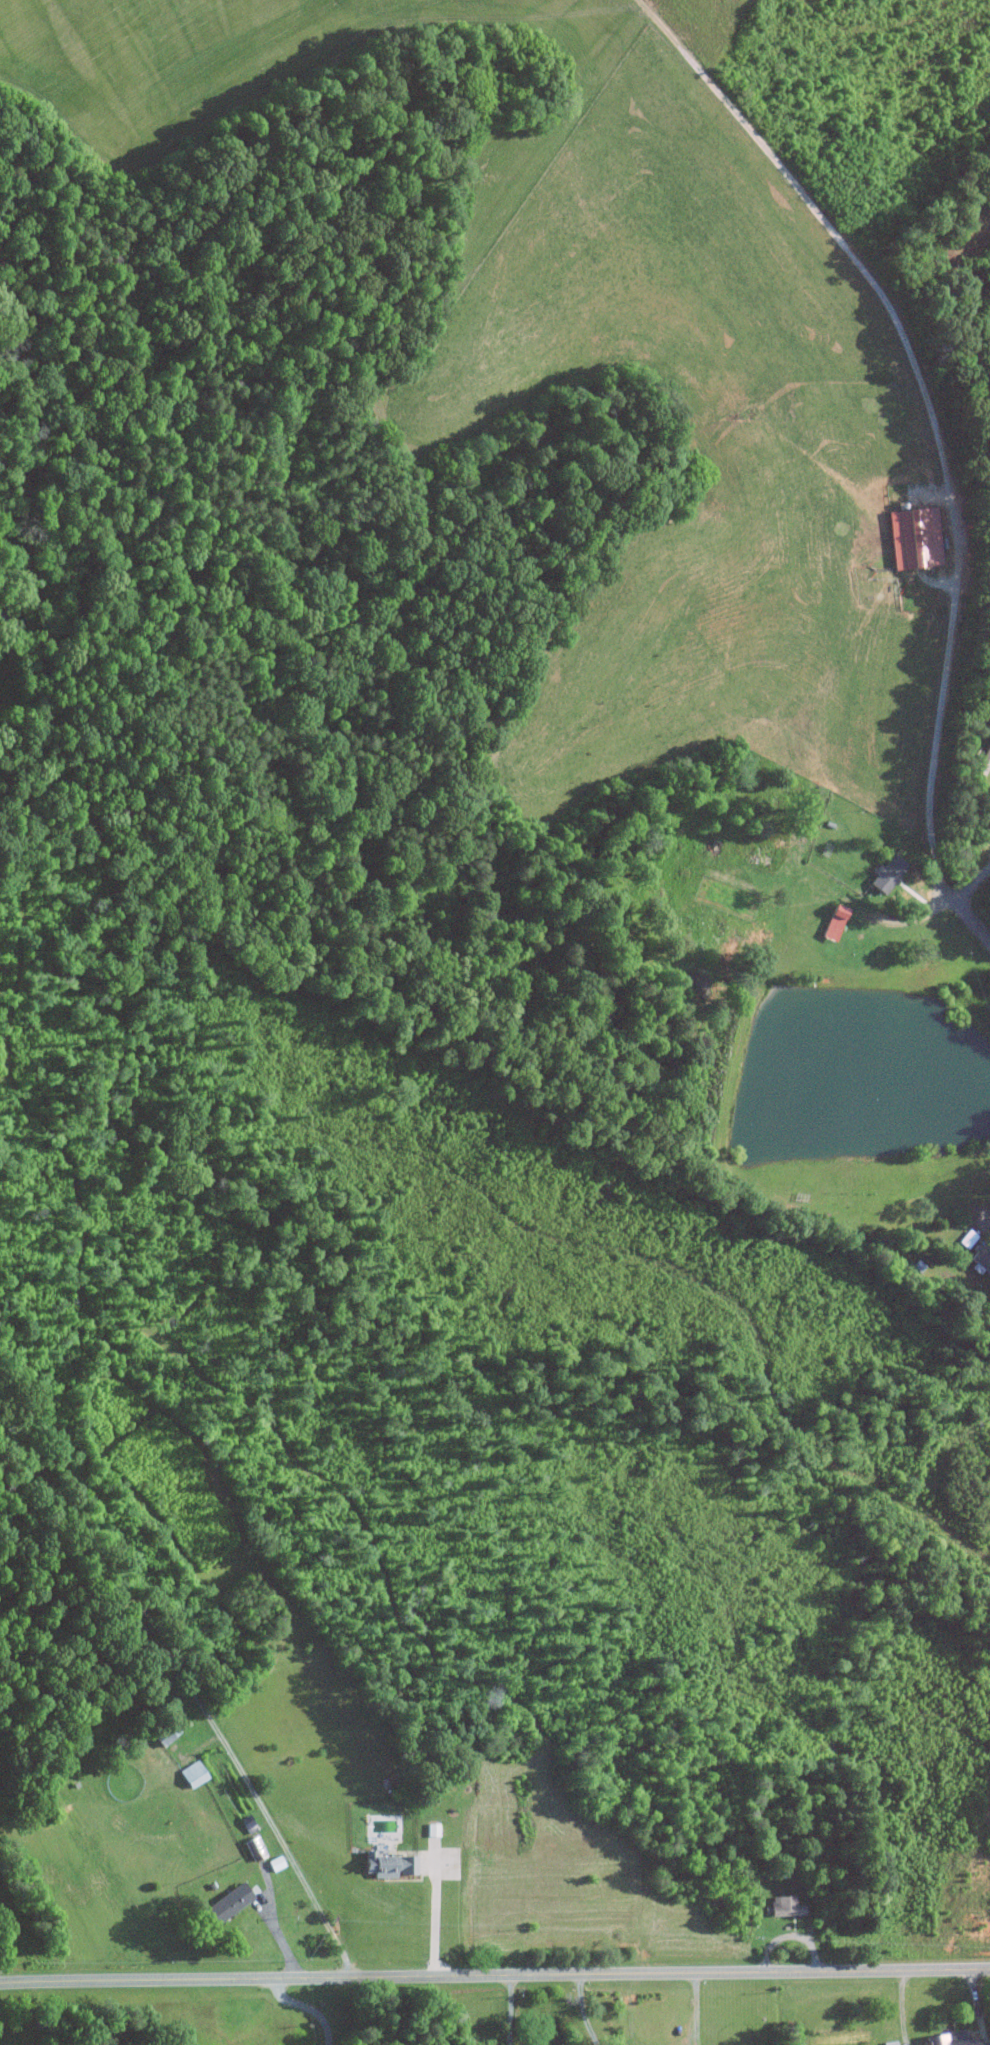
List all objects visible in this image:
road: (938, 726)
building: (983, 762)
building: (886, 872)
road: (970, 883)
building: (833, 922)
road: (970, 922)
road: (985, 1216)
building: (979, 1259)
building: (191, 1775)
road: (263, 1809)
building: (384, 1865)
building: (225, 1903)
building: (782, 1906)
road: (433, 1920)
road: (276, 1931)
road: (494, 1977)
road: (309, 2007)
road: (901, 2007)
road: (509, 2010)
road: (583, 2011)
building: (948, 2039)

